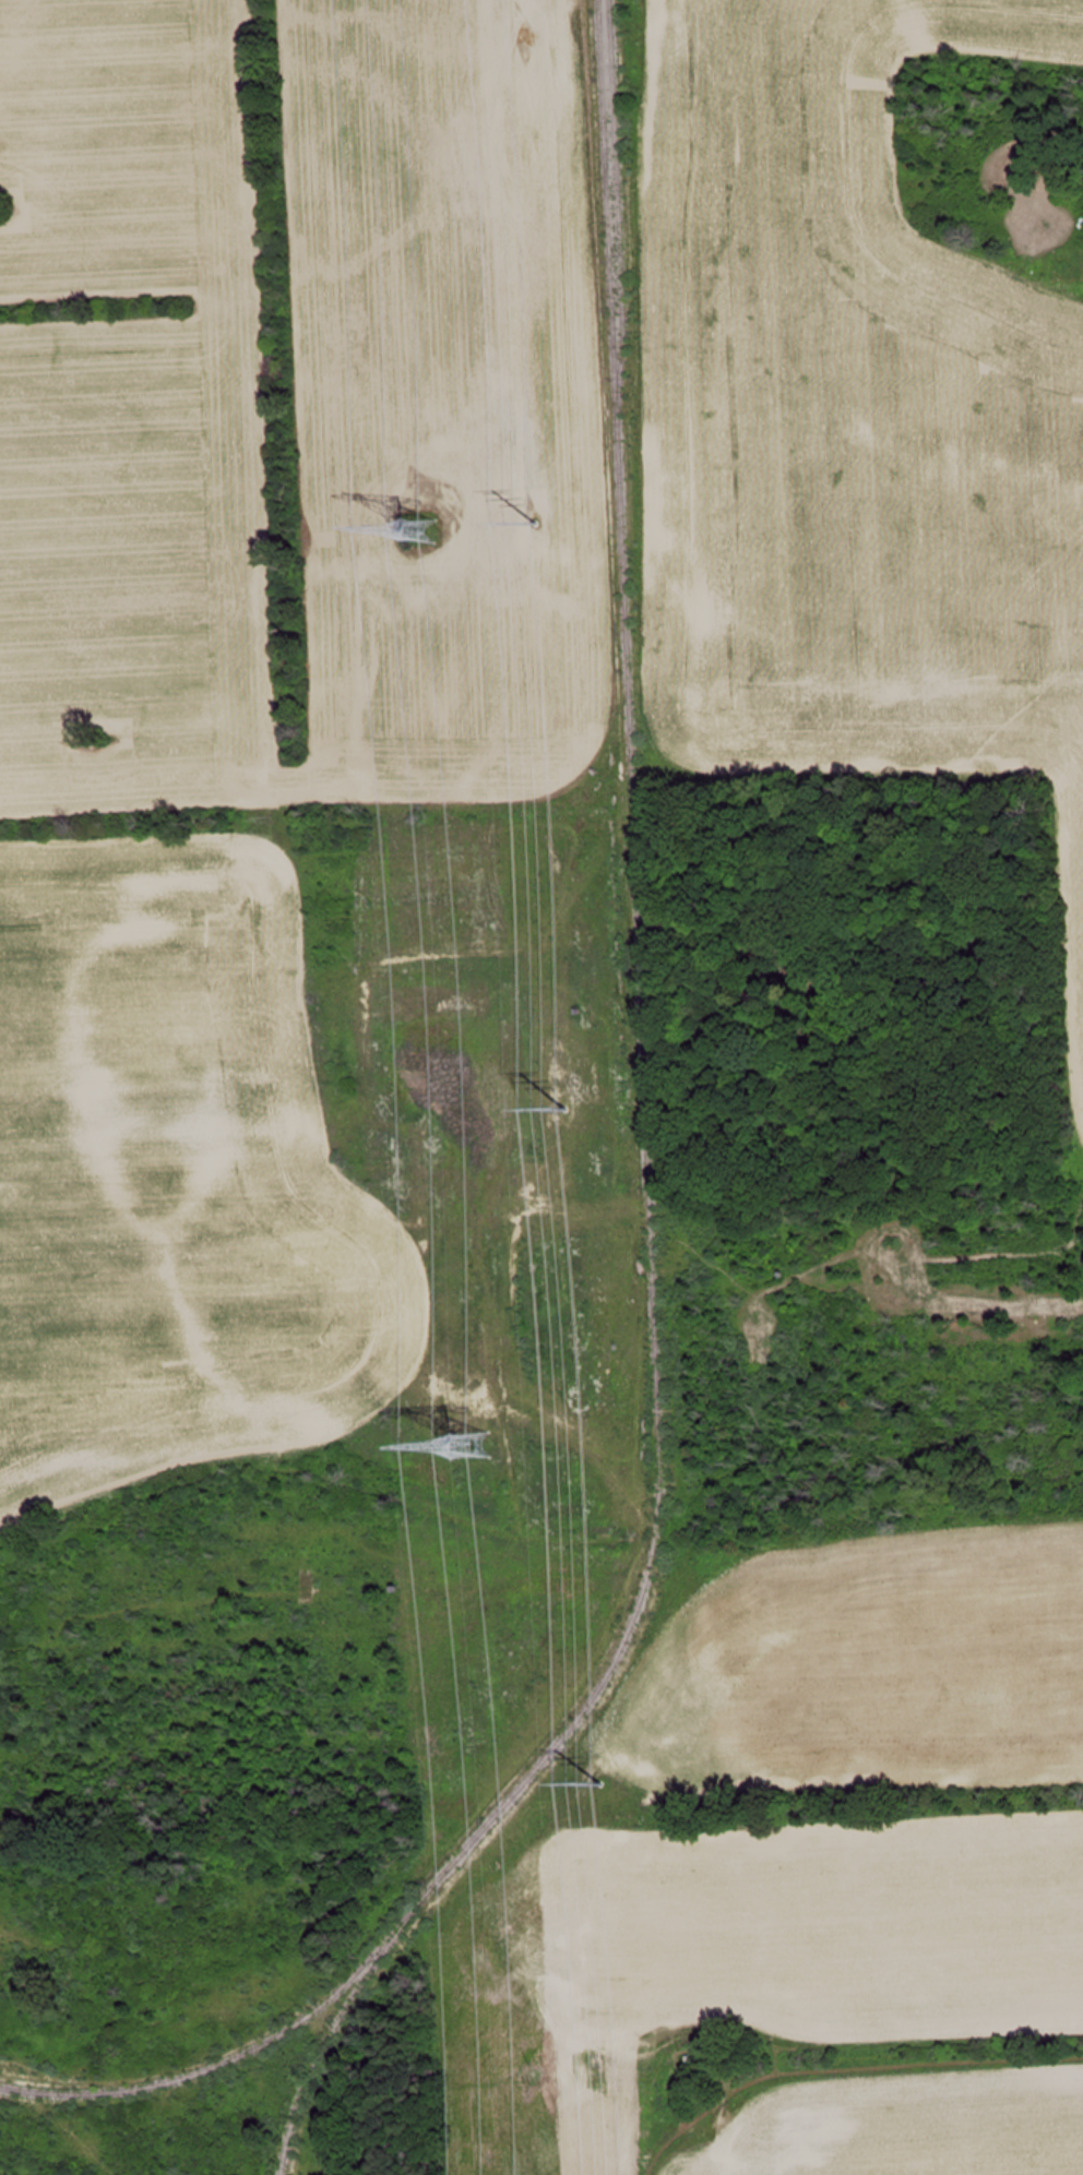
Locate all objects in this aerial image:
road: (1069, 250)
power tower: (535, 525)
power tower: (415, 531)
railway: (622, 750)
power tower: (563, 1110)
power tower: (466, 1448)
power tower: (597, 1783)
railway: (476, 1840)
railway: (219, 2065)

